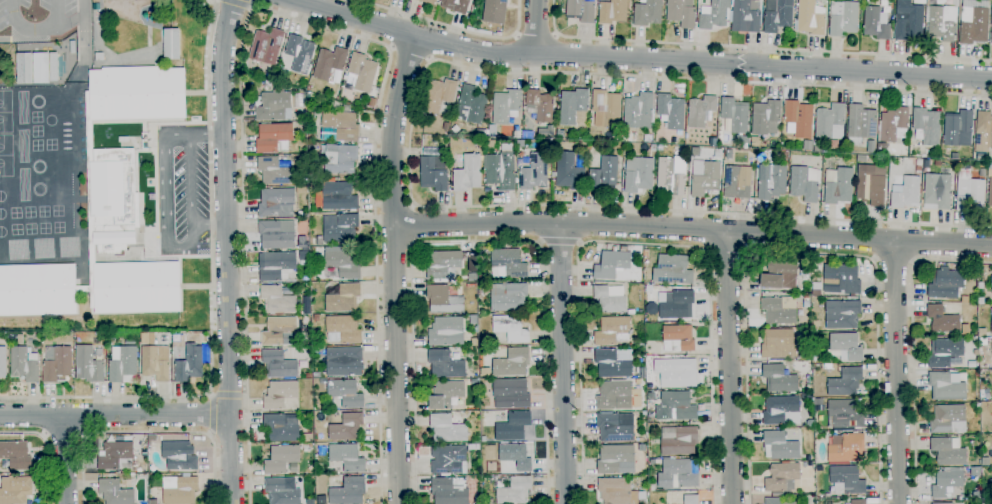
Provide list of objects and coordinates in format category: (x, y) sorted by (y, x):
building: (856, 0)
building: (429, 1)
road: (252, 2)
road: (236, 3)
building: (955, 3)
road: (252, 5)
building: (457, 5)
road: (249, 6)
building: (581, 10)
building: (495, 11)
building: (612, 12)
building: (647, 13)
building: (681, 13)
building: (715, 15)
building: (777, 15)
parking lot: (38, 16)
building: (745, 16)
building: (811, 18)
building: (842, 18)
road: (299, 20)
building: (908, 20)
building: (941, 22)
building: (974, 22)
building: (875, 24)
road: (537, 26)
road: (452, 27)
road: (35, 30)
road: (535, 34)
building: (991, 39)
building: (171, 44)
building: (266, 46)
road: (756, 48)
building: (299, 53)
road: (409, 54)
building: (99, 57)
road: (639, 59)
building: (330, 62)
building: (40, 67)
building: (24, 68)
building: (362, 72)
building: (440, 96)
building: (372, 102)
building: (472, 105)
building: (541, 105)
building: (572, 105)
building: (274, 106)
building: (506, 106)
building: (607, 107)
building: (639, 111)
building: (671, 111)
building: (700, 111)
park: (5, 112)
building: (735, 114)
building: (766, 118)
building: (799, 118)
building: (830, 122)
park: (37, 123)
building: (860, 124)
building: (893, 125)
building: (339, 126)
building: (926, 126)
building: (956, 127)
building: (492, 131)
building: (983, 132)
building: (481, 133)
building: (560, 133)
building: (615, 134)
building: (274, 138)
building: (123, 139)
road: (409, 139)
building: (680, 141)
building: (755, 141)
building: (520, 144)
building: (808, 146)
building: (871, 147)
building: (653, 148)
building: (660, 148)
building: (881, 148)
building: (729, 154)
park: (6, 156)
building: (954, 156)
building: (340, 159)
building: (927, 163)
building: (918, 169)
building: (500, 170)
building: (532, 170)
building: (276, 171)
building: (568, 172)
building: (434, 173)
building: (468, 174)
building: (638, 175)
building: (671, 175)
building: (605, 176)
road: (189, 180)
building: (706, 180)
road: (164, 181)
building: (737, 181)
building: (804, 183)
building: (772, 184)
building: (871, 184)
building: (838, 185)
building: (302, 190)
building: (937, 190)
building: (990, 192)
building: (905, 193)
building: (970, 195)
building: (339, 196)
parking lot: (190, 197)
building: (277, 203)
building: (108, 211)
building: (306, 215)
road: (208, 224)
road: (413, 225)
building: (340, 228)
road: (693, 229)
building: (275, 236)
building: (317, 241)
road: (477, 241)
building: (302, 242)
road: (559, 242)
road: (640, 243)
road: (227, 251)
road: (725, 251)
road: (805, 253)
building: (304, 256)
road: (893, 261)
building: (472, 263)
building: (612, 263)
building: (343, 264)
building: (507, 264)
building: (443, 265)
building: (276, 266)
road: (394, 269)
building: (672, 270)
building: (780, 275)
building: (472, 277)
building: (841, 279)
building: (991, 280)
building: (946, 283)
building: (980, 285)
building: (288, 291)
building: (480, 293)
building: (816, 293)
building: (508, 297)
building: (344, 298)
building: (444, 299)
building: (610, 299)
road: (212, 300)
building: (980, 300)
building: (277, 301)
building: (806, 302)
building: (677, 305)
building: (308, 307)
building: (779, 310)
building: (630, 312)
building: (842, 314)
building: (315, 317)
building: (473, 320)
building: (942, 320)
building: (991, 324)
building: (511, 328)
building: (343, 329)
building: (446, 331)
building: (612, 331)
building: (280, 332)
building: (678, 338)
building: (20, 339)
building: (148, 339)
building: (112, 340)
building: (130, 342)
building: (778, 344)
road: (912, 344)
building: (991, 345)
building: (846, 346)
building: (483, 348)
building: (945, 352)
building: (809, 358)
building: (814, 358)
building: (3, 362)
building: (156, 362)
building: (344, 362)
road: (562, 362)
building: (512, 363)
building: (24, 364)
building: (56, 364)
building: (191, 364)
building: (279, 364)
building: (446, 364)
building: (612, 364)
building: (88, 365)
building: (123, 365)
road: (728, 367)
road: (896, 371)
building: (676, 372)
building: (317, 375)
building: (779, 379)
building: (845, 382)
building: (946, 387)
building: (809, 389)
road: (210, 393)
building: (345, 393)
road: (244, 394)
building: (279, 394)
building: (446, 394)
building: (511, 394)
road: (226, 395)
building: (614, 395)
building: (651, 396)
building: (806, 397)
building: (818, 401)
building: (637, 402)
building: (675, 407)
building: (978, 407)
building: (781, 410)
building: (991, 410)
road: (212, 413)
building: (845, 414)
road: (115, 415)
building: (948, 419)
building: (345, 427)
building: (513, 427)
building: (447, 428)
building: (280, 429)
building: (613, 429)
road: (210, 432)
road: (148, 433)
road: (64, 434)
building: (307, 438)
building: (152, 439)
building: (477, 439)
building: (639, 440)
building: (678, 440)
road: (46, 446)
building: (779, 446)
building: (319, 447)
building: (475, 447)
building: (846, 448)
building: (306, 449)
building: (948, 451)
building: (16, 455)
building: (116, 456)
building: (179, 456)
building: (516, 456)
building: (347, 457)
building: (614, 458)
road: (68, 459)
building: (281, 459)
building: (448, 459)
building: (985, 461)
building: (652, 462)
building: (677, 474)
building: (782, 478)
building: (845, 480)
building: (946, 482)
building: (15, 490)
building: (449, 490)
building: (615, 490)
building: (660, 490)
building: (181, 491)
building: (282, 491)
building: (348, 491)
building: (515, 491)
building: (114, 492)
building: (691, 499)
building: (477, 500)
building: (777, 501)
building: (487, 502)
building: (858, 502)
building: (989, 502)
building: (942, 503)

